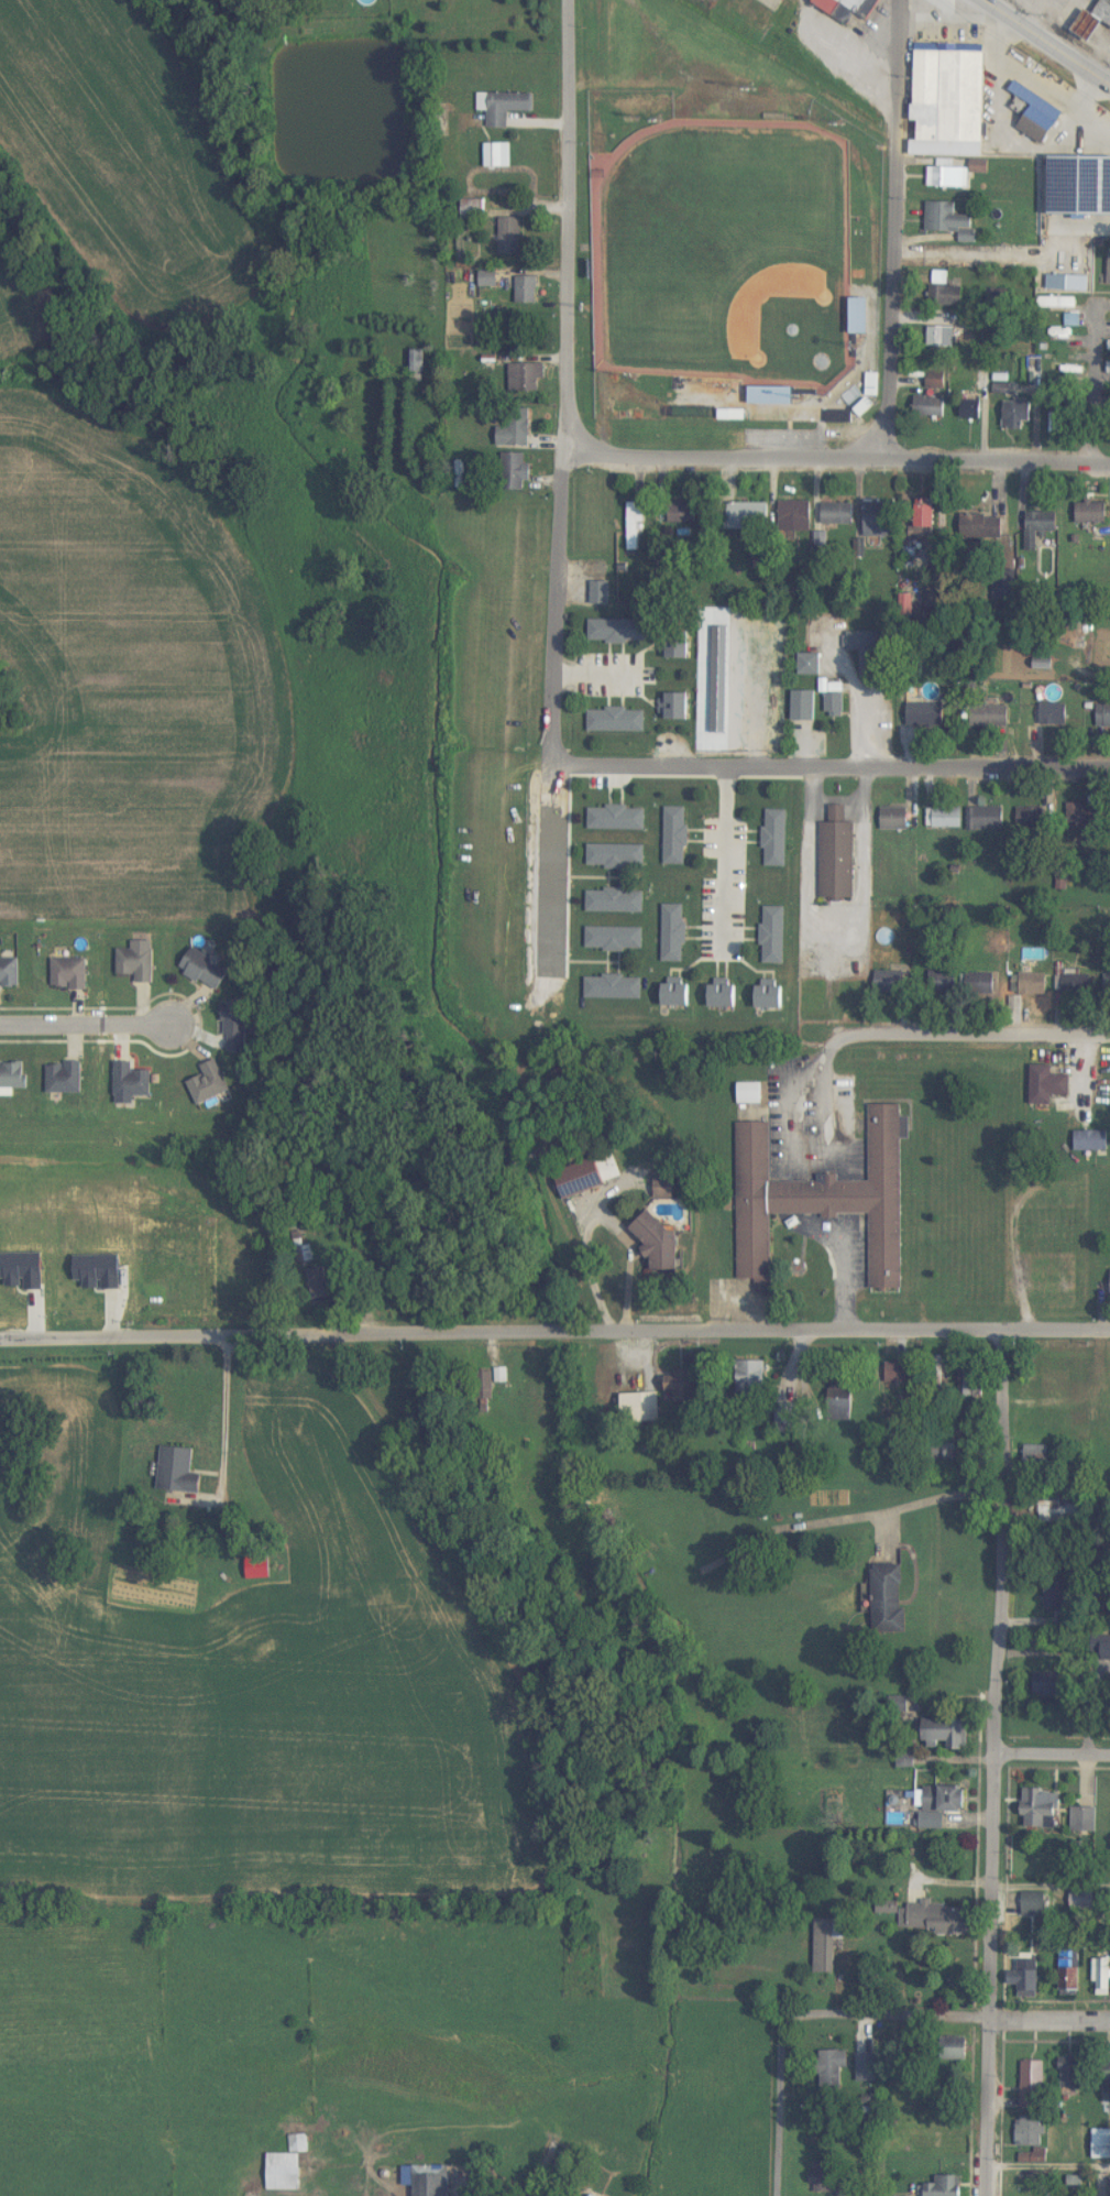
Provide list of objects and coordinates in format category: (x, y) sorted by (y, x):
building: (1103, 11)
road: (1043, 44)
road: (659, 79)
building: (950, 94)
building: (503, 108)
building: (1038, 114)
building: (1098, 125)
building: (498, 156)
building: (946, 174)
building: (949, 220)
road: (897, 228)
road: (567, 229)
building: (510, 236)
park: (724, 252)
building: (1054, 265)
building: (488, 278)
building: (526, 289)
building: (945, 296)
building: (1056, 303)
building: (861, 316)
building: (1063, 335)
building: (942, 337)
building: (1068, 369)
building: (527, 378)
road: (1091, 384)
building: (772, 395)
building: (971, 405)
building: (866, 407)
building: (930, 407)
building: (839, 417)
building: (516, 429)
road: (837, 457)
building: (514, 471)
building: (1091, 513)
building: (683, 514)
building: (837, 514)
building: (748, 516)
building: (795, 516)
building: (881, 520)
building: (924, 522)
building: (635, 526)
building: (982, 527)
building: (1038, 527)
road: (554, 612)
building: (617, 631)
building: (678, 645)
building: (869, 663)
building: (812, 664)
road: (719, 688)
building: (834, 704)
building: (678, 706)
building: (804, 706)
building: (926, 714)
building: (1053, 715)
building: (617, 719)
building: (998, 719)
road: (757, 754)
road: (640, 767)
road: (917, 767)
building: (945, 817)
building: (616, 818)
building: (894, 818)
building: (988, 818)
building: (1032, 819)
building: (675, 835)
building: (776, 838)
building: (616, 855)
building: (837, 855)
road: (726, 862)
road: (551, 887)
building: (615, 900)
building: (673, 932)
building: (773, 935)
building: (614, 938)
building: (136, 964)
building: (206, 969)
building: (9, 974)
building: (69, 974)
building: (890, 982)
building: (942, 983)
building: (1075, 985)
building: (614, 986)
building: (1030, 986)
building: (979, 990)
building: (677, 995)
building: (723, 996)
building: (770, 996)
road: (89, 1027)
road: (844, 1029)
building: (13, 1077)
building: (65, 1078)
building: (132, 1080)
building: (1047, 1084)
building: (750, 1093)
building: (1091, 1140)
building: (823, 1198)
road: (1014, 1243)
building: (661, 1247)
building: (305, 1254)
building: (318, 1286)
road: (844, 1286)
building: (937, 1291)
road: (932, 1332)
road: (376, 1333)
building: (899, 1374)
building: (758, 1375)
building: (1059, 1383)
building: (970, 1384)
building: (640, 1407)
road: (230, 1452)
building: (1036, 1456)
building: (178, 1474)
road: (923, 1505)
building: (1060, 1512)
building: (889, 1598)
building: (1049, 1687)
building: (945, 1734)
road: (1048, 1761)
road: (988, 1763)
building: (942, 1805)
building: (1042, 1810)
building: (1084, 1820)
road: (1048, 1891)
building: (1081, 1901)
building: (1034, 1904)
building: (938, 1920)
building: (826, 1944)
building: (1070, 1974)
building: (1101, 1978)
building: (1025, 1979)
road: (978, 2018)
building: (958, 2050)
building: (867, 2067)
building: (832, 2069)
building: (1073, 2074)
road: (777, 2077)
building: (1033, 2083)
building: (1107, 2087)
building: (1033, 2137)
road: (624, 2141)
building: (298, 2143)
building: (1101, 2145)
road: (1082, 2165)
building: (284, 2173)
building: (823, 2178)
building: (432, 2181)
building: (943, 2187)

